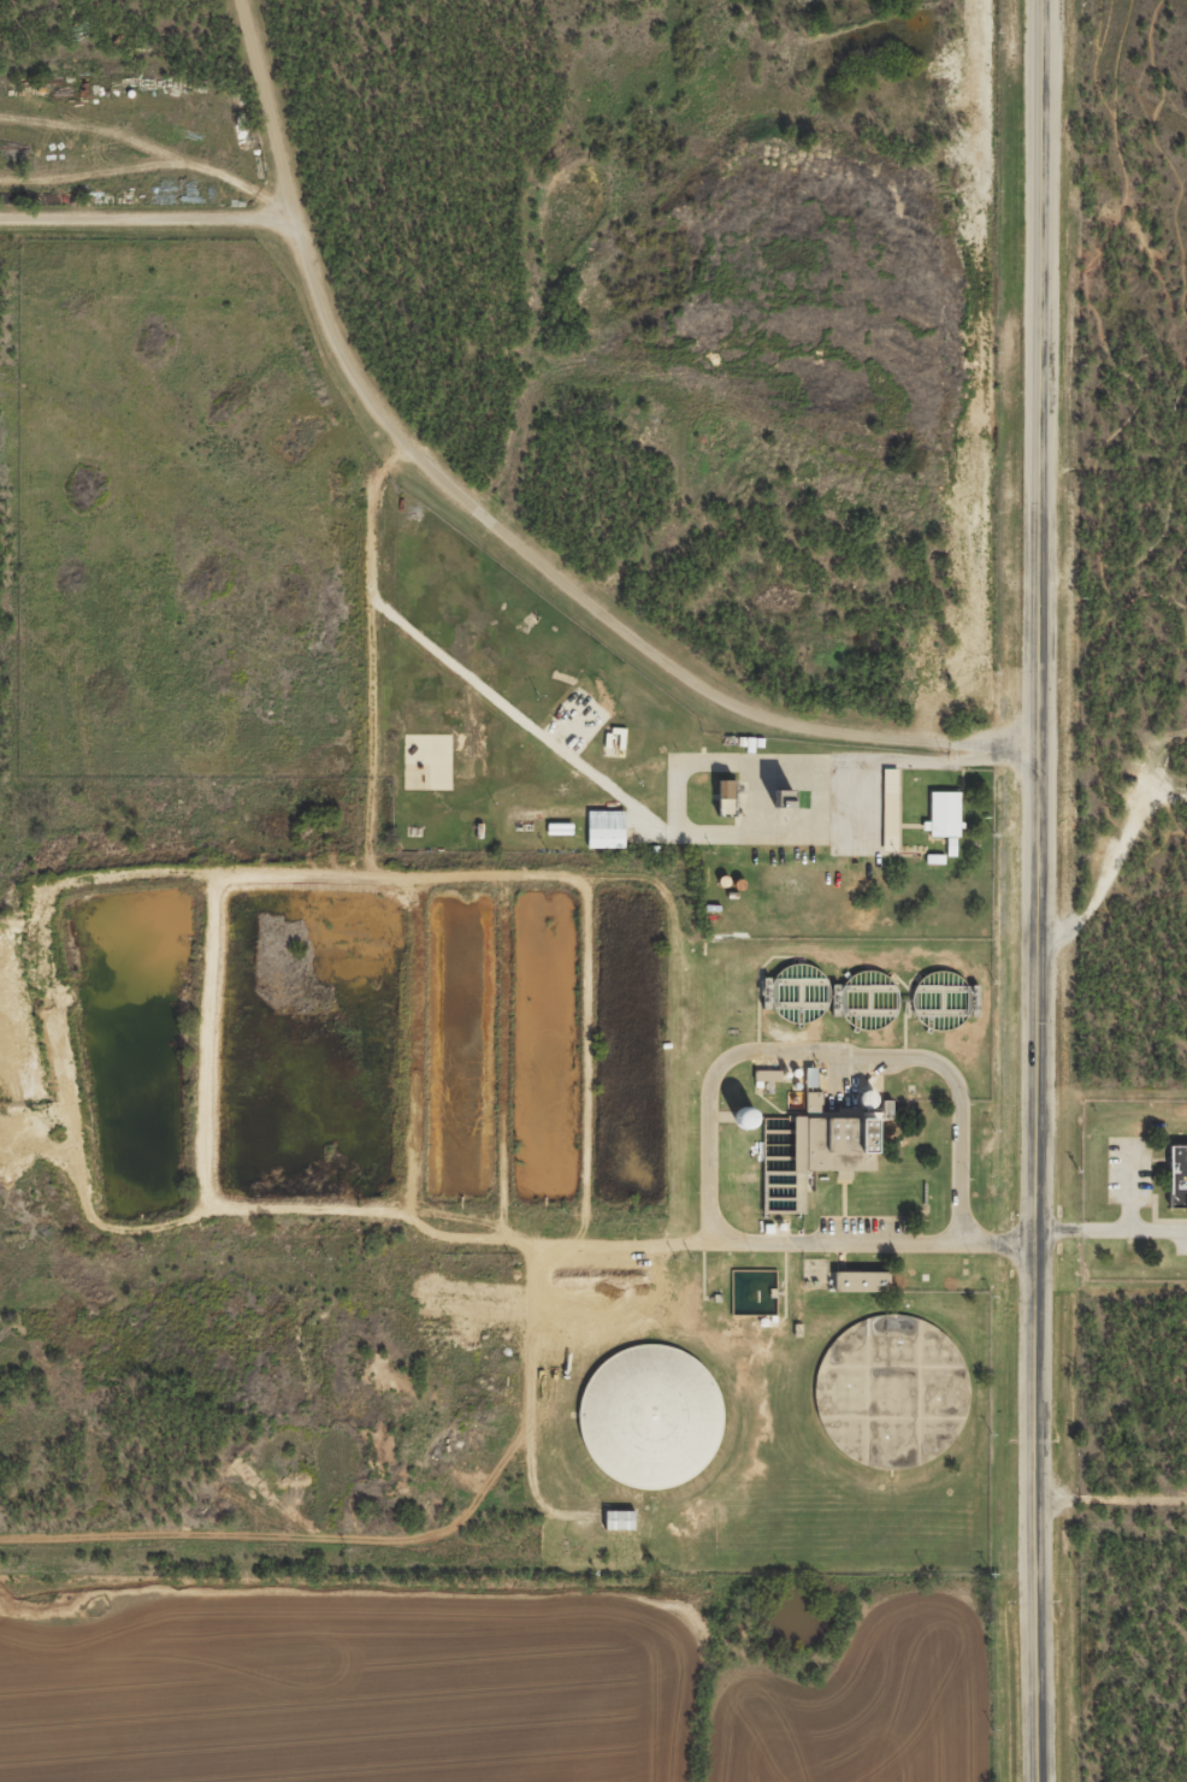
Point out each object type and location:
road: (1154, 59)
road: (1140, 407)
road: (501, 529)
road: (1096, 683)
building: (726, 796)
building: (944, 814)
building: (606, 838)
road: (1038, 891)
road: (1108, 909)
building: (798, 993)
storage tank: (798, 993)
building: (868, 999)
storage tank: (868, 999)
building: (940, 1001)
storage tank: (940, 1001)
road: (1124, 1021)
building: (867, 1099)
storage tank: (867, 1099)
road: (709, 1102)
building: (745, 1117)
storage tank: (745, 1117)
parking lot: (1129, 1169)
building: (1177, 1174)
road: (1129, 1186)
road: (1112, 1231)
parking lot: (1182, 1241)
building: (862, 1281)
building: (754, 1292)
storage tank: (754, 1292)
building: (891, 1391)
storage tank: (891, 1391)
building: (650, 1417)
storage tank: (650, 1417)
road: (1111, 1501)

